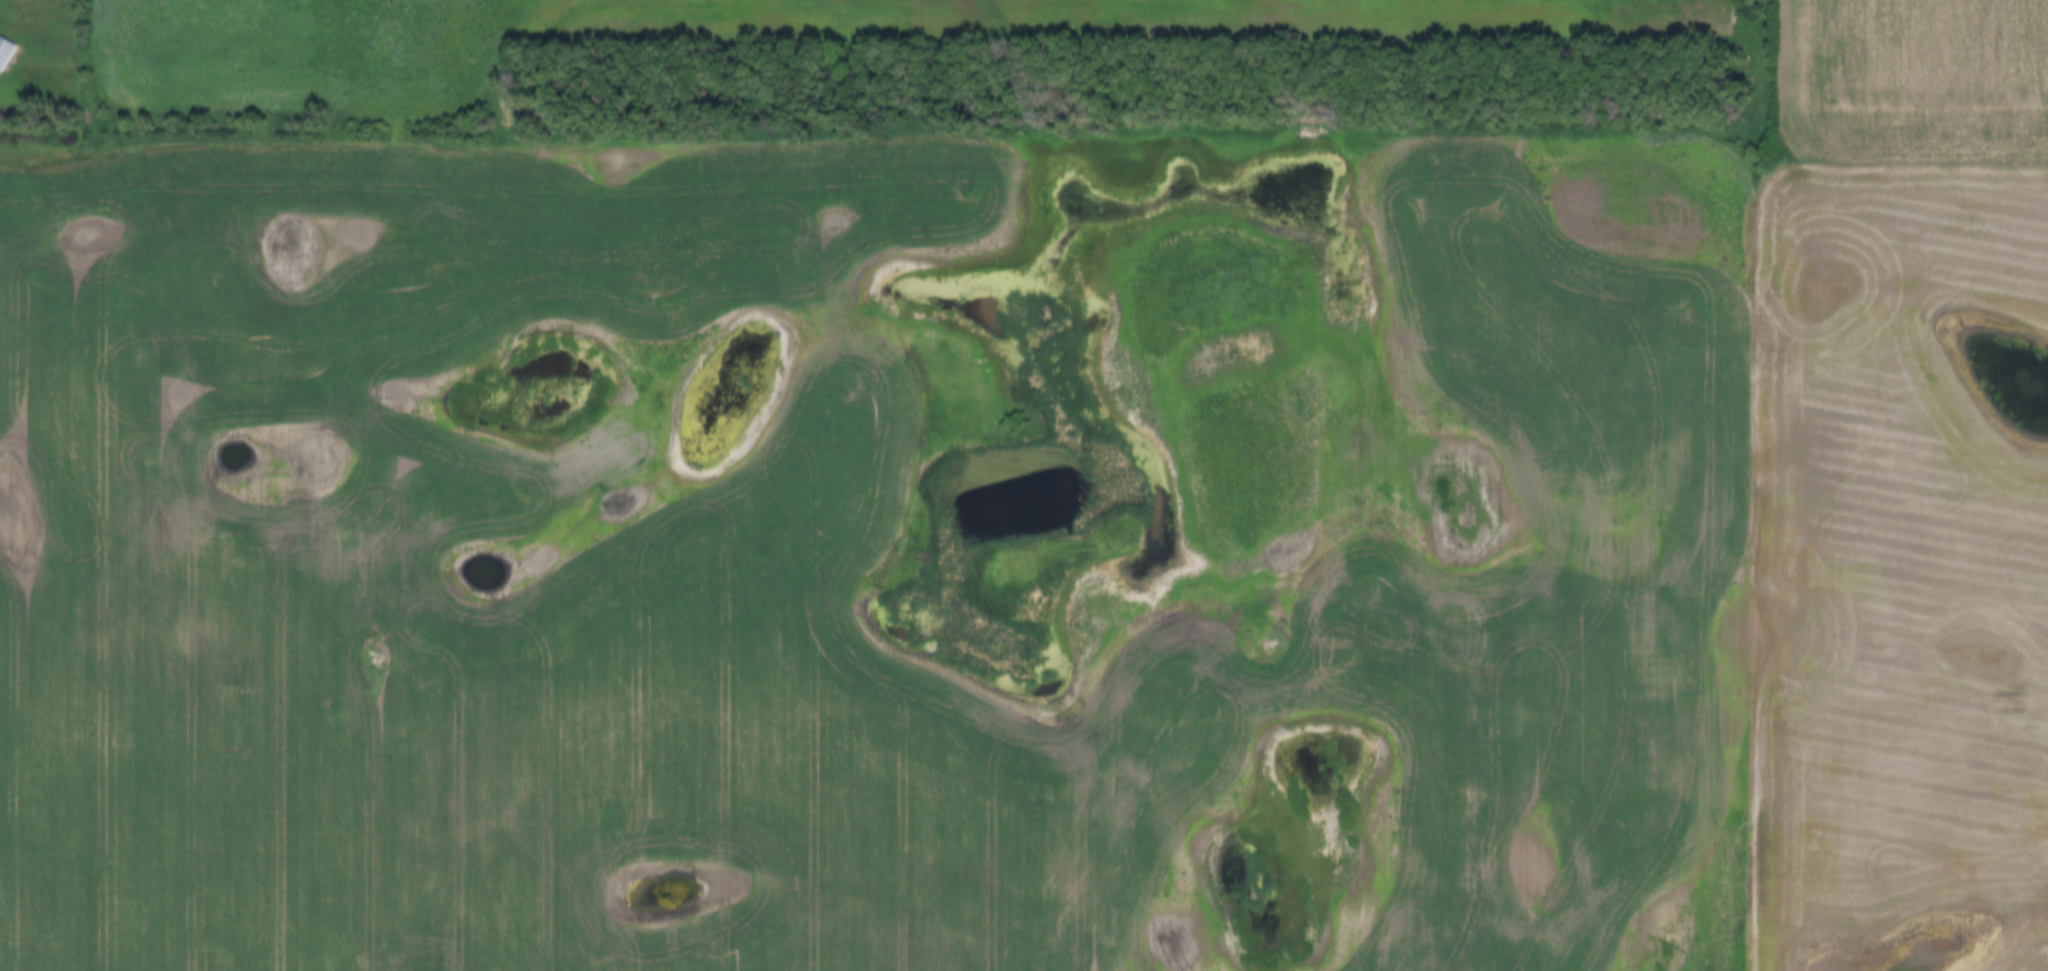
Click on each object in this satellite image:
building: (5, 52)

